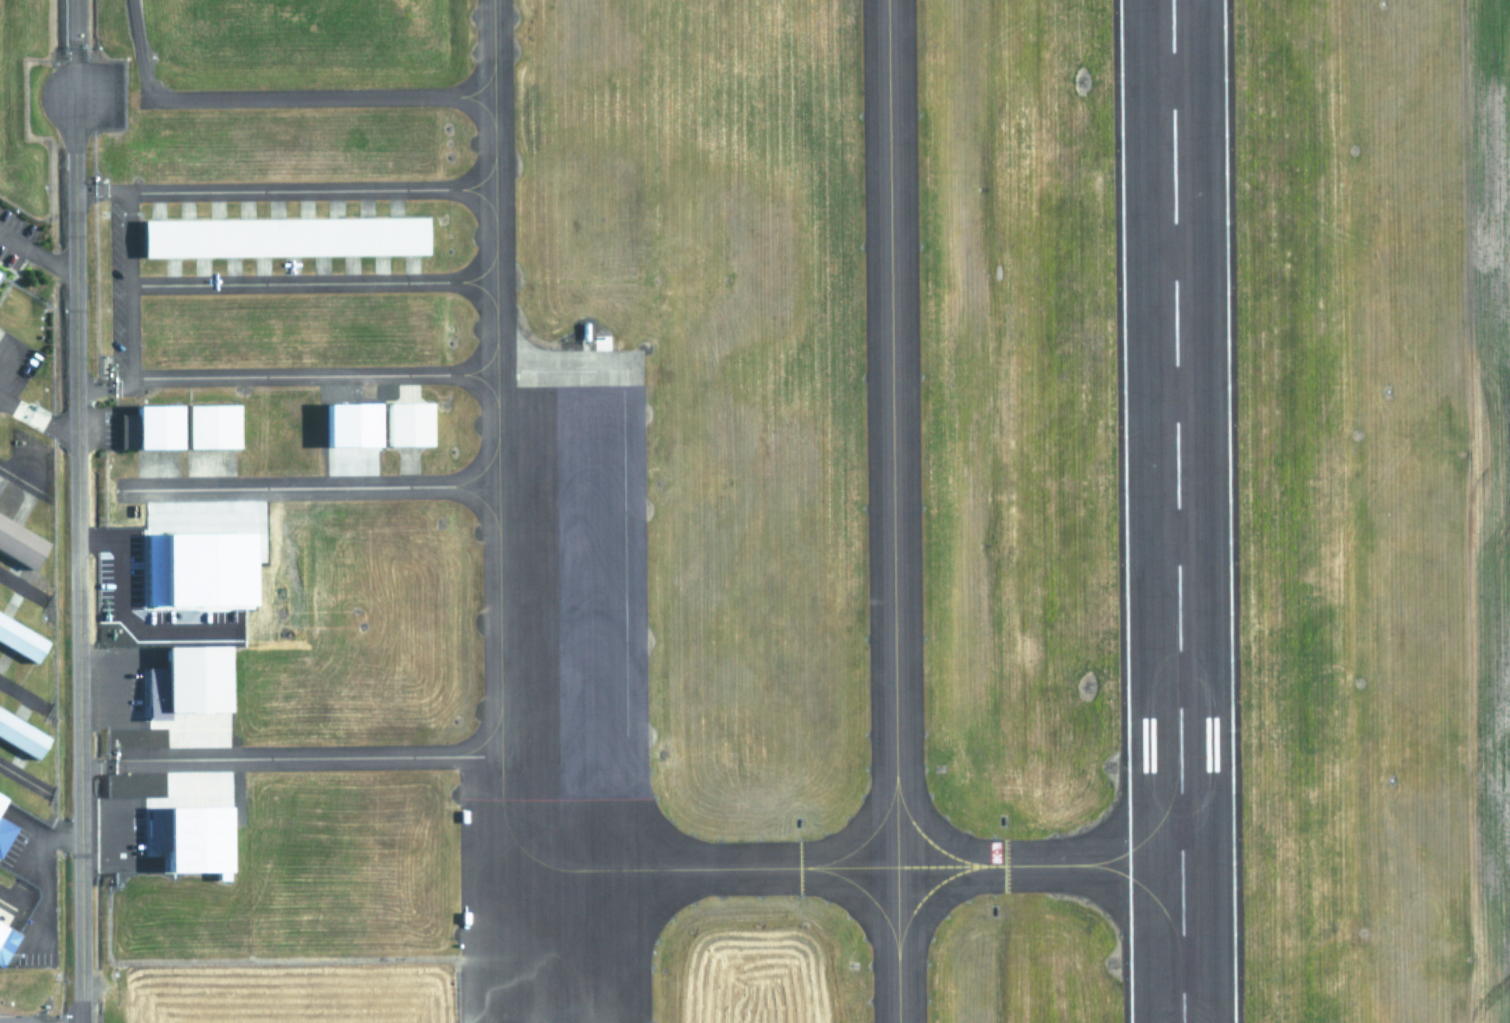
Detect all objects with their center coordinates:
road: (73, 48)
road: (270, 96)
road: (283, 193)
building: (281, 237)
road: (31, 254)
building: (0, 277)
road: (126, 284)
road: (310, 284)
road: (6, 360)
road: (312, 372)
road: (103, 400)
road: (38, 420)
airport hangar: (351, 422)
building: (351, 422)
building: (404, 425)
building: (202, 428)
building: (145, 429)
road: (310, 485)
crop: (1378, 507)
airport: (755, 511)
airport taxiway: (890, 511)
airport runway: (1176, 511)
building: (20, 546)
road: (78, 559)
airport hangar: (203, 570)
building: (203, 570)
building: (19, 643)
building: (187, 679)
airport apron: (559, 720)
building: (19, 738)
road: (266, 764)
airport taxiway: (499, 776)
building: (4, 835)
building: (196, 839)
crop: (302, 921)
building: (5, 944)
crop: (756, 953)

